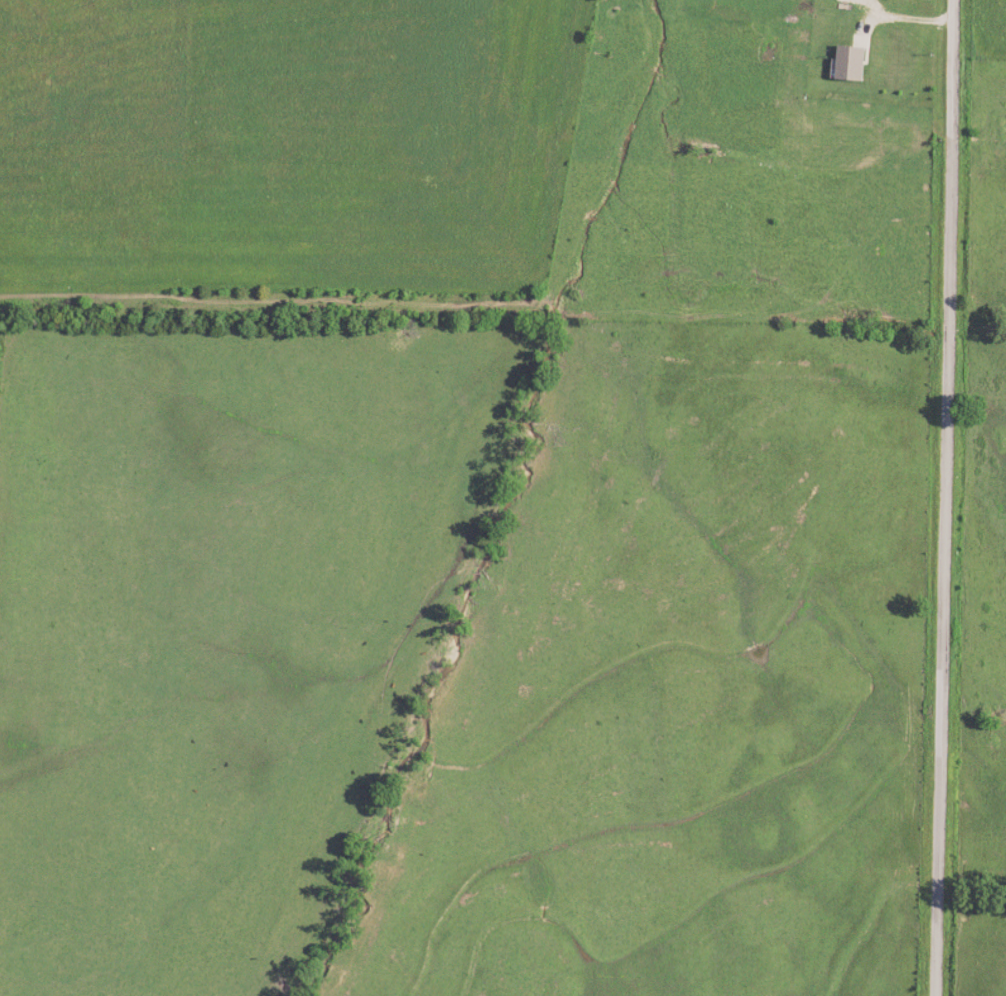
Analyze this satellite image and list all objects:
building: (844, 64)
road: (943, 497)

